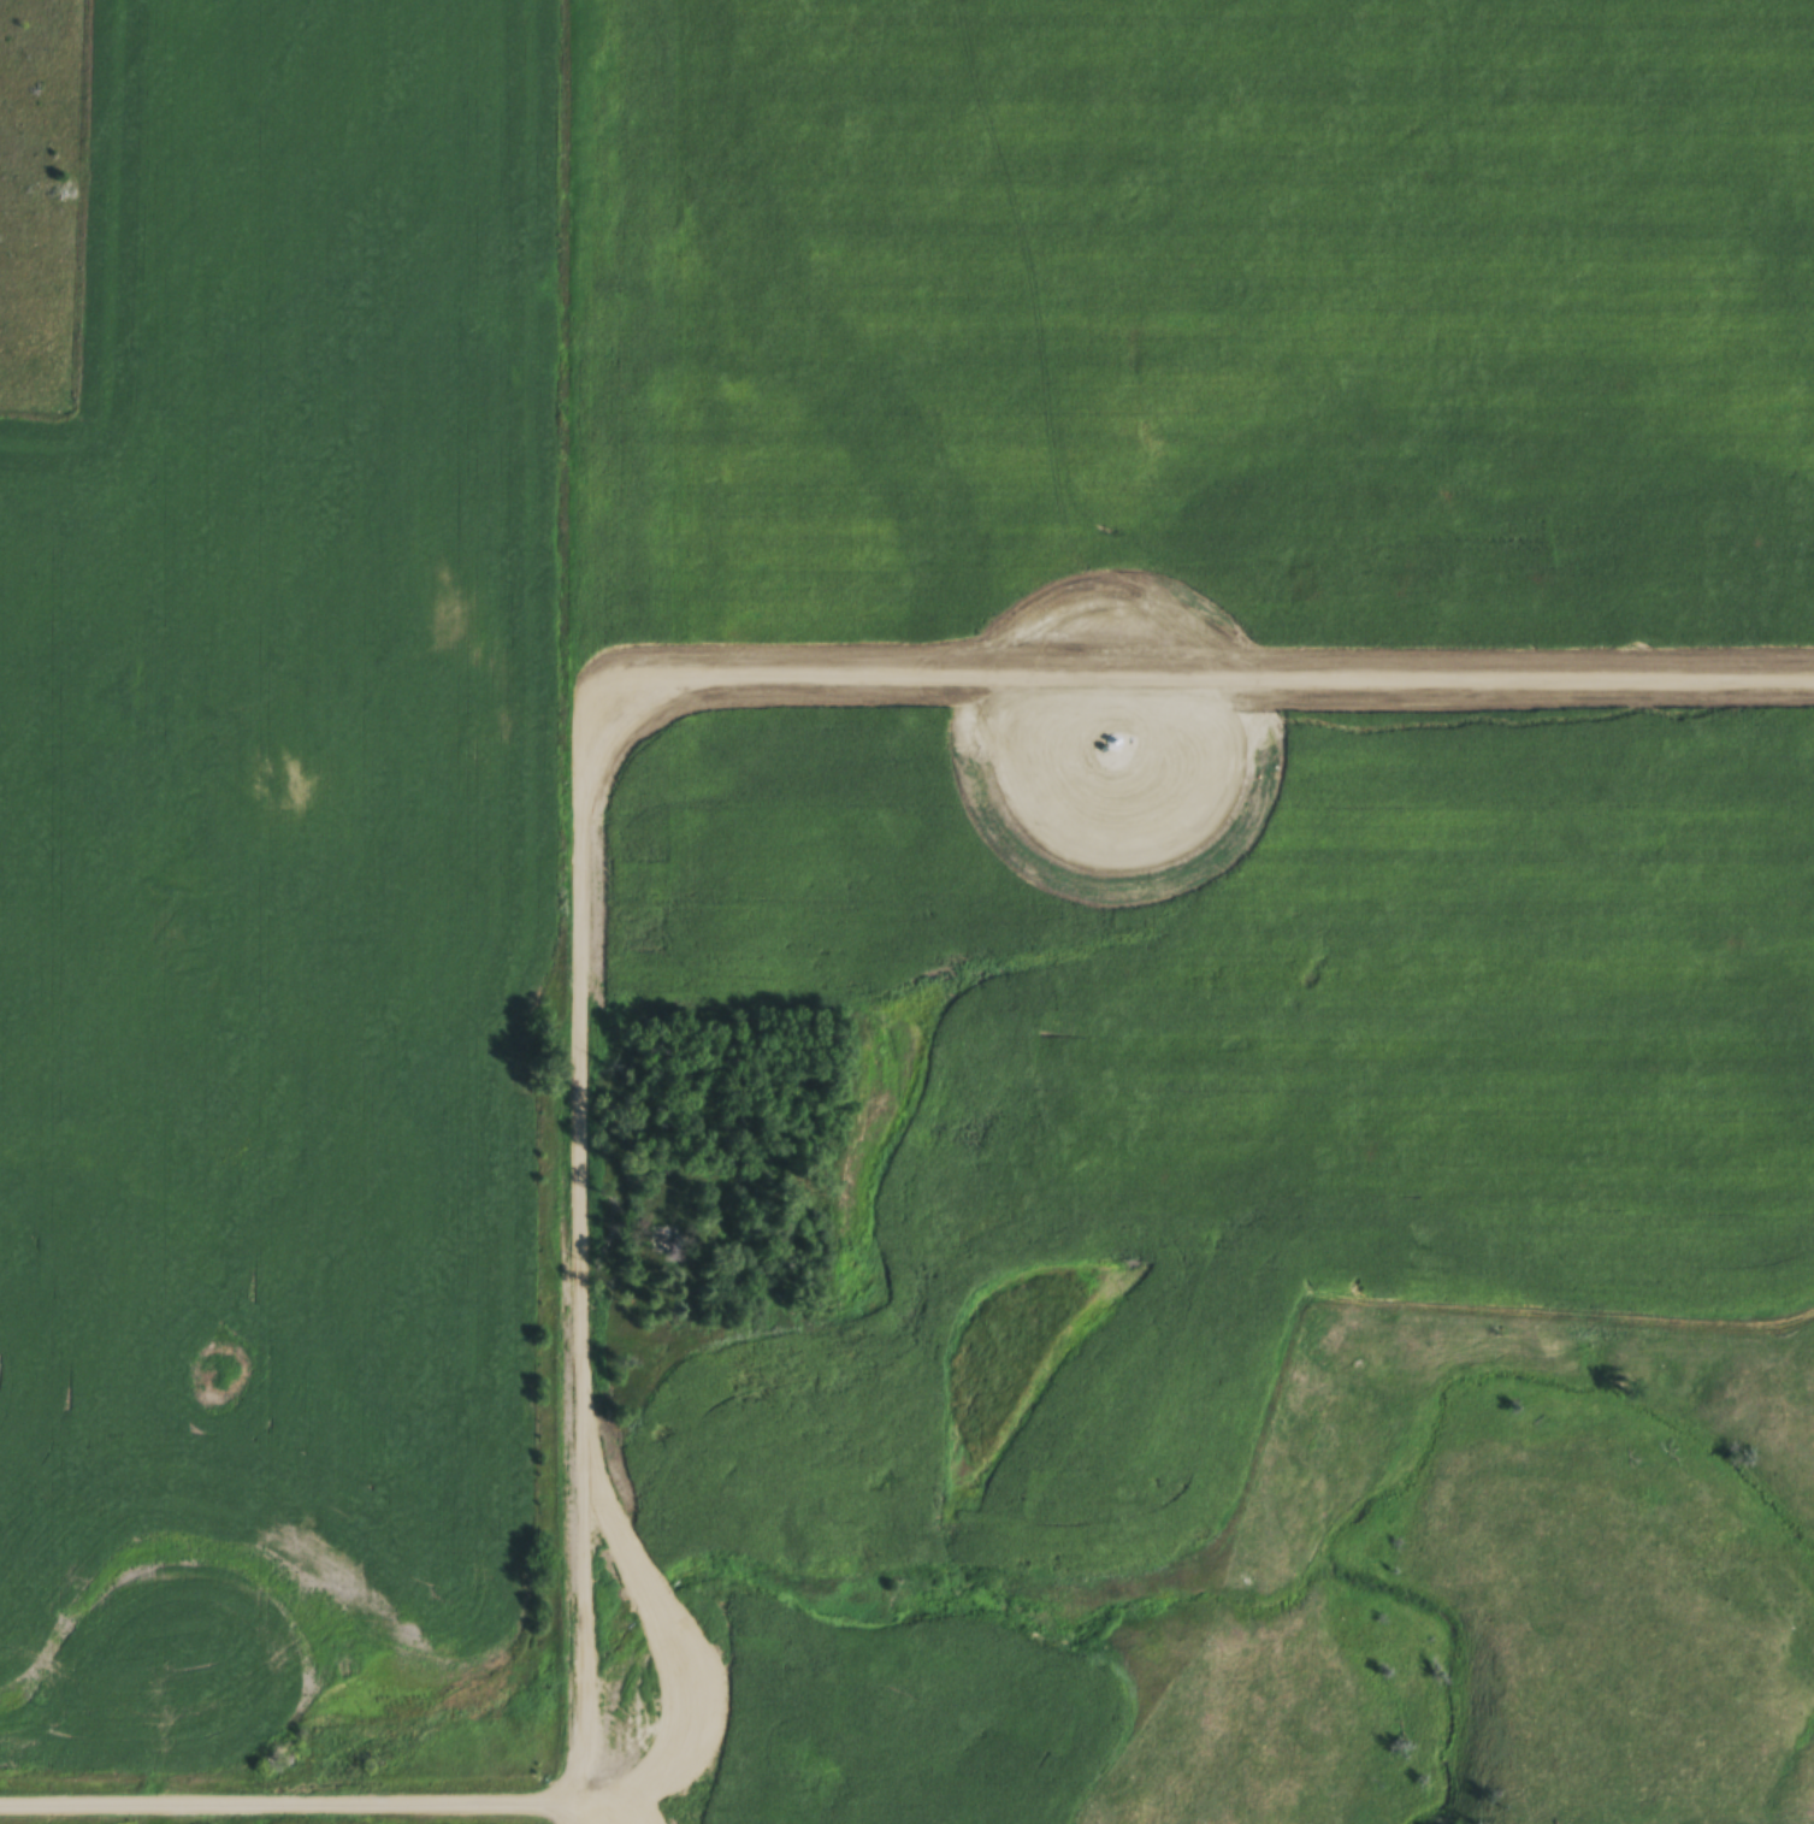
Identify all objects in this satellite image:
wind turbine: (1107, 760)
road: (567, 1451)
road: (285, 1801)

